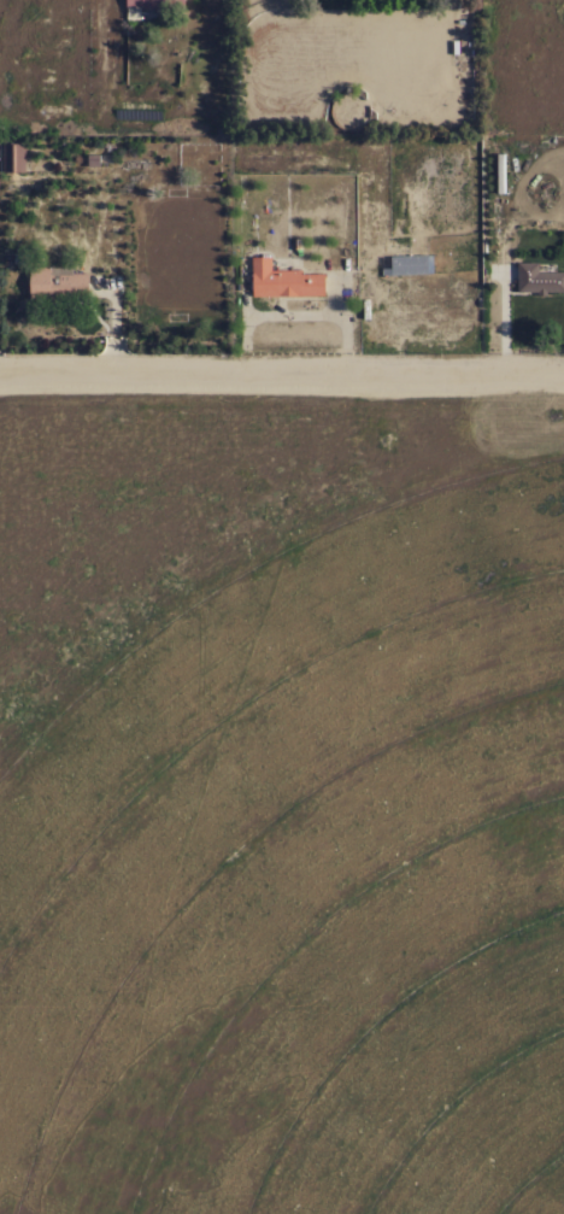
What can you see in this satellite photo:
building: (151, 6)
building: (13, 157)
building: (424, 268)
building: (537, 278)
building: (283, 280)
building: (58, 283)
road: (282, 374)
crop: (301, 867)

